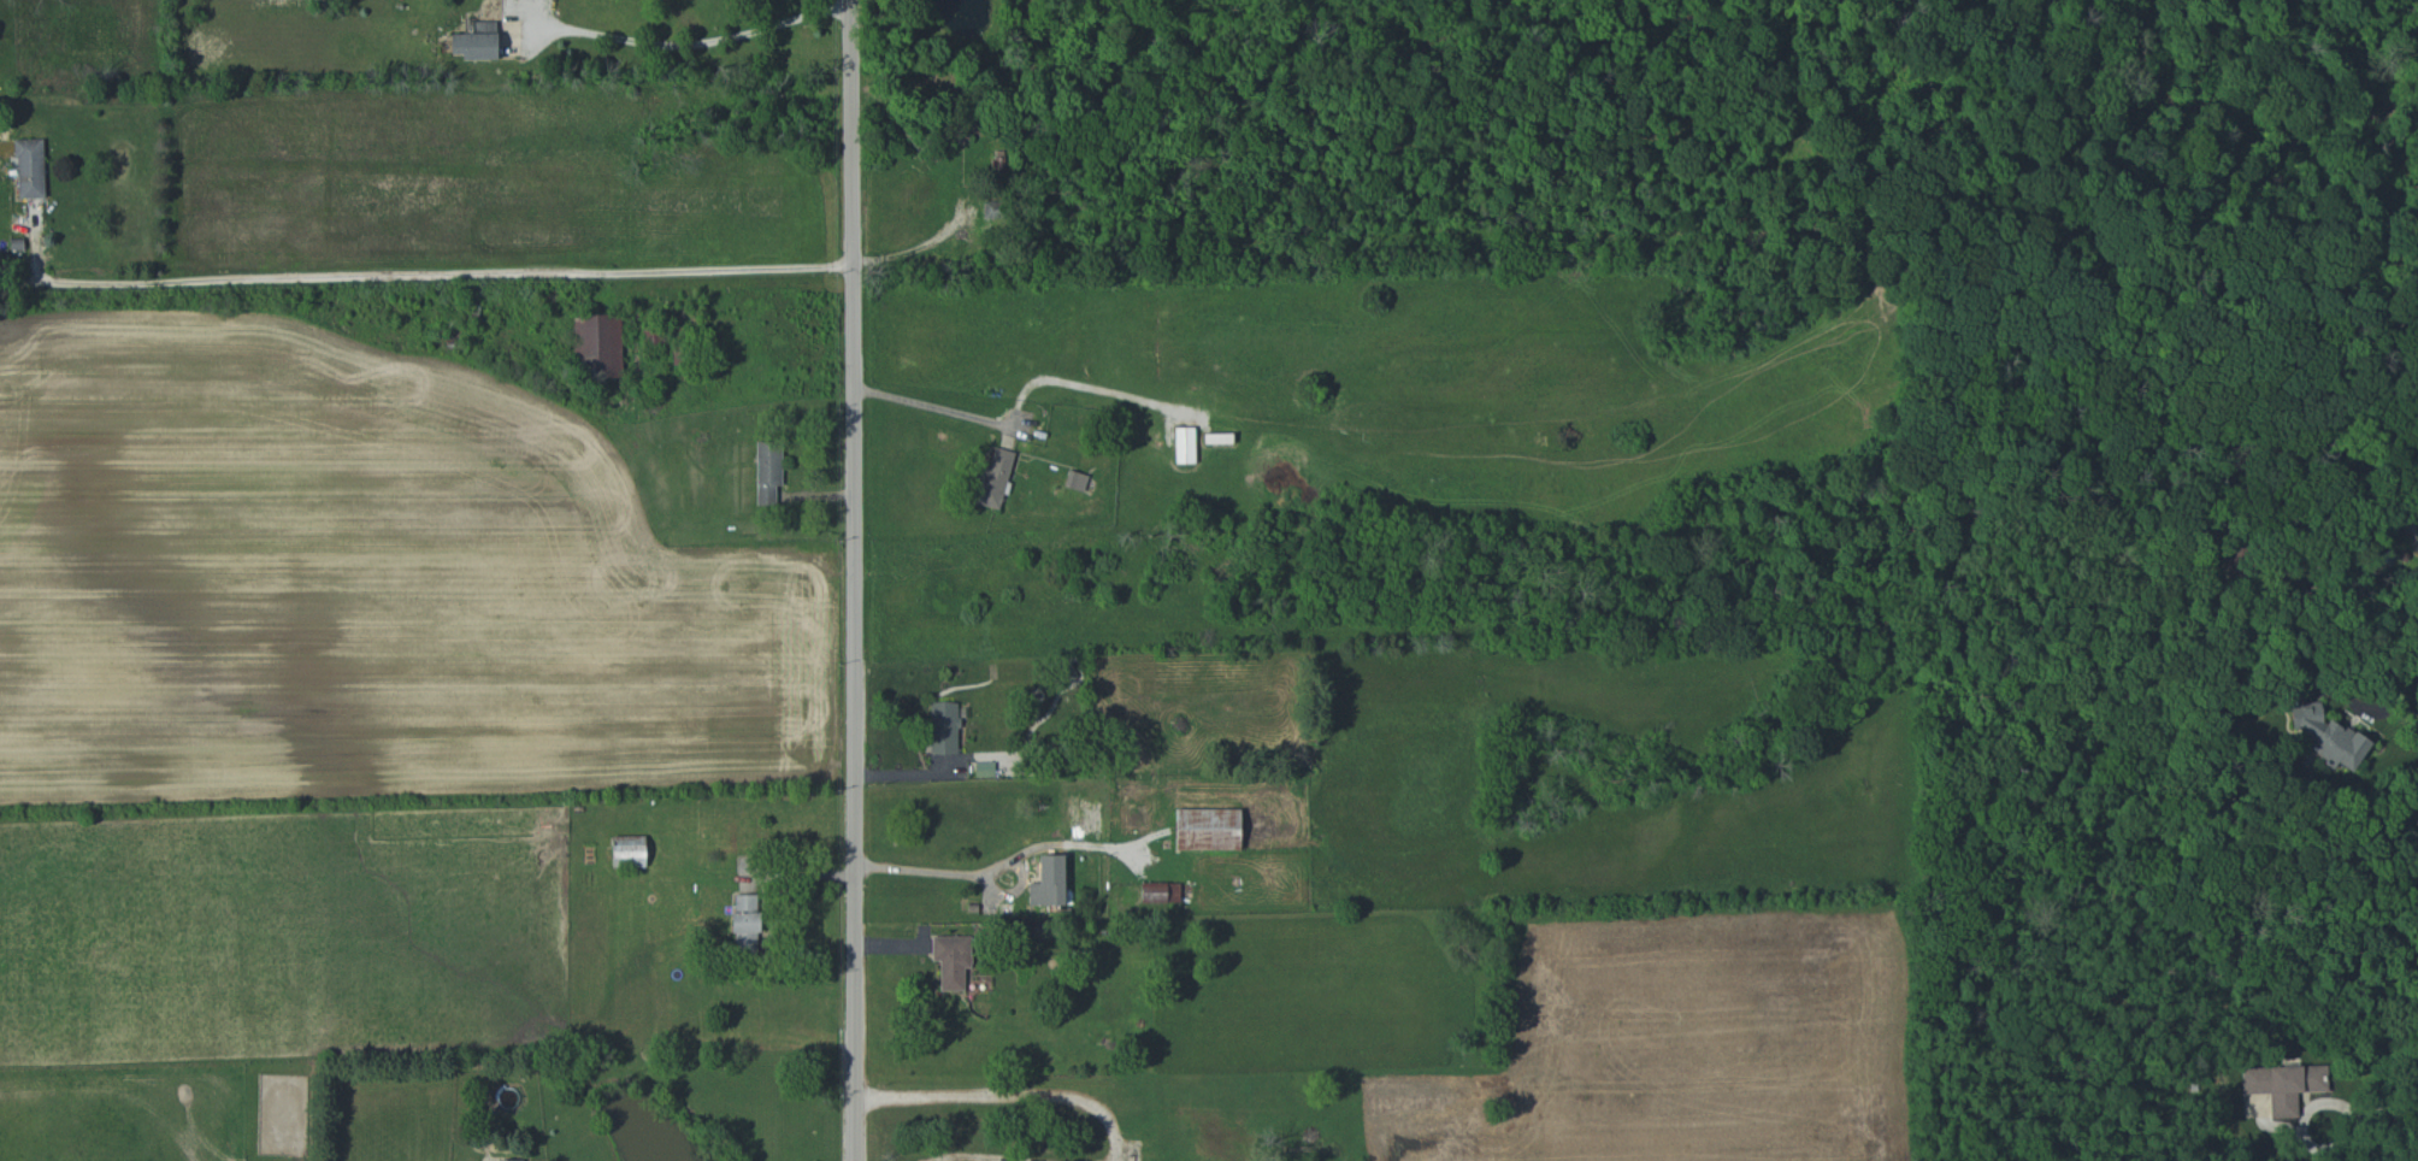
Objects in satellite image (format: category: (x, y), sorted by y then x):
building: (477, 41)
road: (684, 41)
building: (30, 167)
road: (442, 275)
building: (598, 344)
road: (1087, 389)
road: (931, 405)
building: (1184, 444)
building: (768, 471)
building: (993, 479)
building: (1075, 481)
road: (853, 579)
road: (2355, 706)
building: (2306, 718)
building: (944, 726)
building: (2340, 745)
building: (1208, 829)
building: (629, 850)
road: (931, 871)
building: (1049, 882)
building: (1166, 892)
building: (745, 921)
building: (951, 959)
building: (2284, 1084)
road: (1009, 1094)
road: (2390, 1103)
road: (2302, 1132)
road: (985, 1156)
building: (512, 1160)

